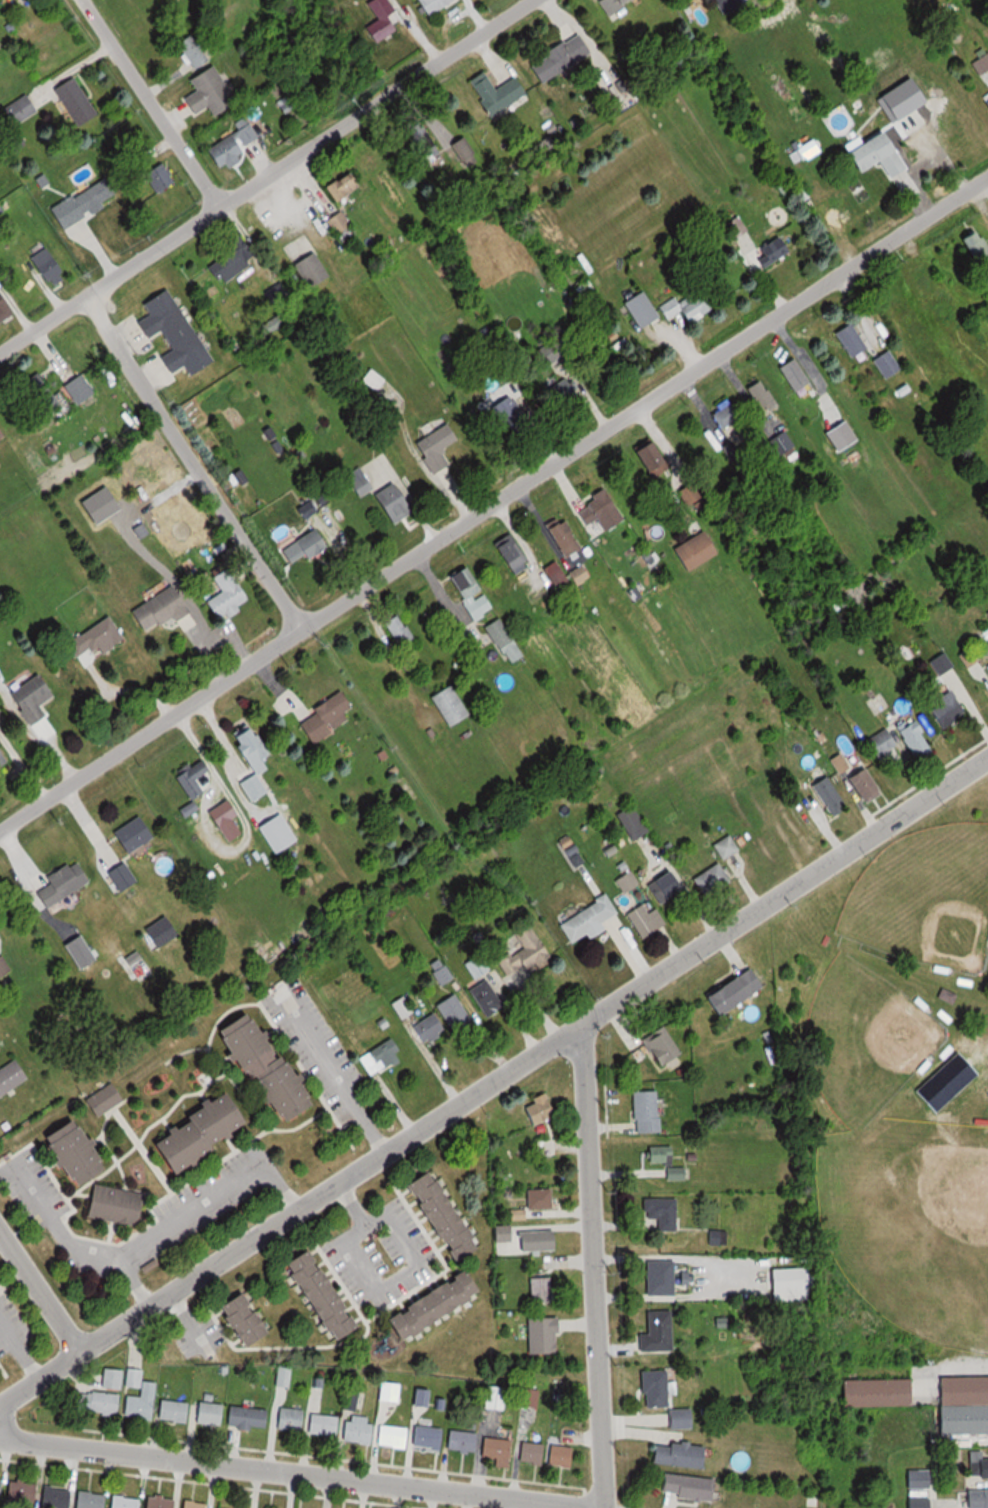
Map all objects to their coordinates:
building: (25, 1)
building: (435, 5)
building: (612, 8)
building: (386, 21)
building: (194, 49)
building: (557, 57)
building: (980, 62)
building: (213, 91)
building: (492, 92)
building: (78, 101)
road: (151, 103)
building: (984, 106)
building: (22, 109)
building: (416, 137)
building: (235, 144)
building: (862, 151)
road: (264, 175)
building: (162, 177)
building: (347, 186)
building: (87, 201)
building: (829, 211)
building: (340, 221)
building: (972, 248)
building: (767, 251)
building: (48, 262)
building: (224, 266)
building: (313, 270)
building: (278, 293)
building: (682, 306)
building: (5, 307)
building: (637, 308)
building: (177, 332)
building: (846, 340)
building: (882, 365)
building: (82, 388)
building: (559, 391)
building: (44, 395)
building: (759, 397)
building: (723, 416)
building: (511, 419)
building: (3, 432)
building: (780, 442)
building: (439, 447)
building: (646, 457)
road: (194, 462)
building: (687, 494)
road: (493, 500)
building: (397, 501)
building: (599, 514)
building: (560, 538)
building: (609, 551)
building: (689, 551)
building: (506, 553)
building: (552, 575)
building: (575, 575)
building: (474, 593)
building: (231, 595)
building: (164, 608)
building: (400, 630)
building: (102, 636)
building: (507, 640)
building: (965, 657)
building: (938, 663)
building: (986, 669)
building: (36, 698)
building: (454, 705)
building: (945, 707)
building: (329, 718)
building: (911, 737)
building: (878, 743)
building: (4, 757)
building: (255, 760)
building: (195, 778)
building: (857, 785)
building: (824, 793)
building: (227, 815)
building: (636, 823)
building: (137, 834)
building: (729, 846)
building: (125, 877)
building: (715, 880)
building: (630, 882)
building: (67, 883)
building: (668, 887)
road: (784, 888)
park: (924, 905)
building: (591, 918)
building: (648, 921)
building: (163, 932)
building: (0, 934)
building: (527, 952)
building: (136, 959)
building: (479, 965)
building: (4, 967)
building: (442, 972)
building: (741, 991)
building: (944, 996)
building: (489, 997)
building: (404, 1007)
building: (456, 1012)
building: (430, 1028)
building: (666, 1046)
park: (862, 1046)
building: (383, 1056)
building: (955, 1066)
building: (274, 1067)
road: (333, 1076)
building: (12, 1077)
building: (986, 1086)
park: (892, 1092)
building: (107, 1098)
building: (543, 1110)
building: (649, 1112)
building: (210, 1131)
building: (82, 1153)
building: (662, 1154)
building: (677, 1173)
building: (543, 1199)
building: (120, 1204)
road: (190, 1211)
road: (288, 1211)
building: (665, 1212)
building: (450, 1216)
road: (52, 1221)
park: (911, 1230)
building: (508, 1233)
building: (541, 1241)
road: (593, 1264)
road: (418, 1265)
building: (664, 1277)
building: (793, 1284)
building: (544, 1289)
road: (39, 1291)
building: (328, 1295)
building: (441, 1305)
building: (251, 1319)
building: (660, 1331)
building: (547, 1335)
building: (0, 1371)
building: (658, 1387)
building: (965, 1390)
building: (392, 1391)
building: (882, 1393)
building: (99, 1401)
building: (144, 1402)
building: (176, 1410)
building: (212, 1412)
building: (249, 1417)
building: (684, 1417)
building: (293, 1418)
building: (965, 1420)
building: (326, 1424)
building: (361, 1429)
building: (395, 1435)
building: (430, 1436)
building: (465, 1441)
building: (501, 1450)
building: (535, 1452)
building: (683, 1454)
building: (564, 1455)
building: (979, 1461)
road: (301, 1473)
building: (692, 1486)
building: (1, 1487)
building: (921, 1488)
building: (24, 1491)
building: (58, 1497)
building: (978, 1499)
building: (92, 1500)
building: (127, 1502)
building: (163, 1502)
building: (196, 1504)

